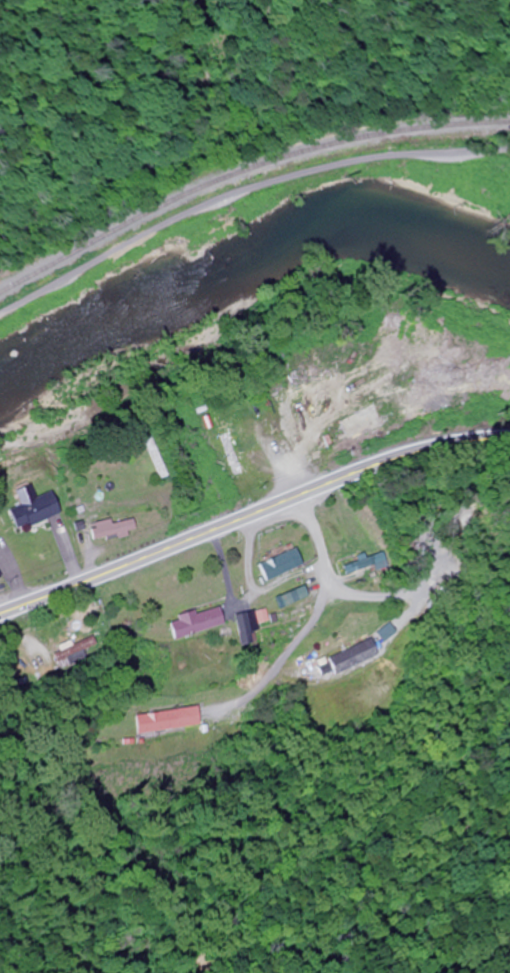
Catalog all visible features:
railway: (243, 171)
road: (241, 188)
river: (248, 262)
building: (227, 454)
building: (152, 458)
building: (26, 512)
road: (252, 514)
building: (109, 528)
building: (272, 568)
building: (355, 568)
building: (290, 598)
building: (195, 624)
building: (252, 626)
building: (79, 653)
building: (350, 658)
building: (161, 722)

